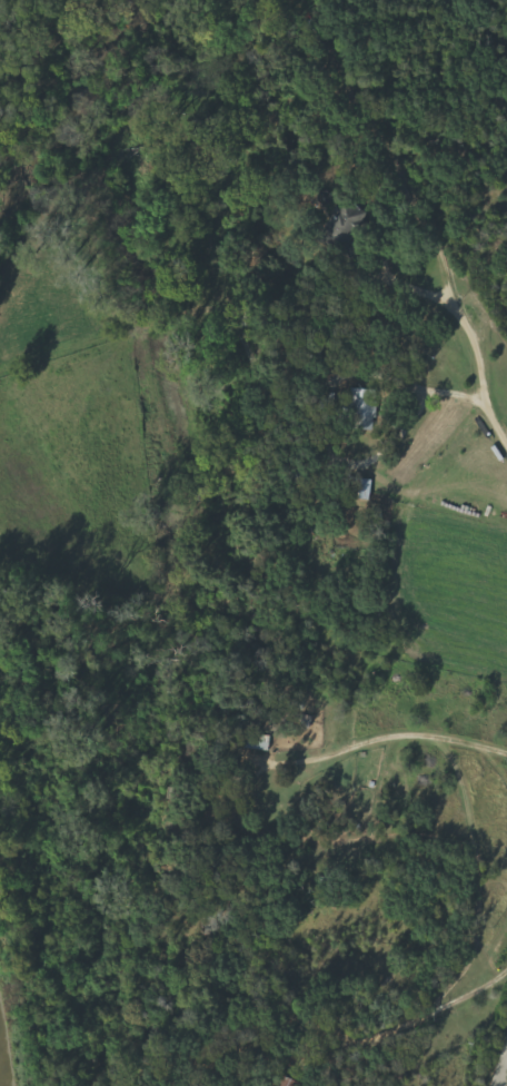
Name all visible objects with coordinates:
building: (259, 742)
road: (503, 1072)

